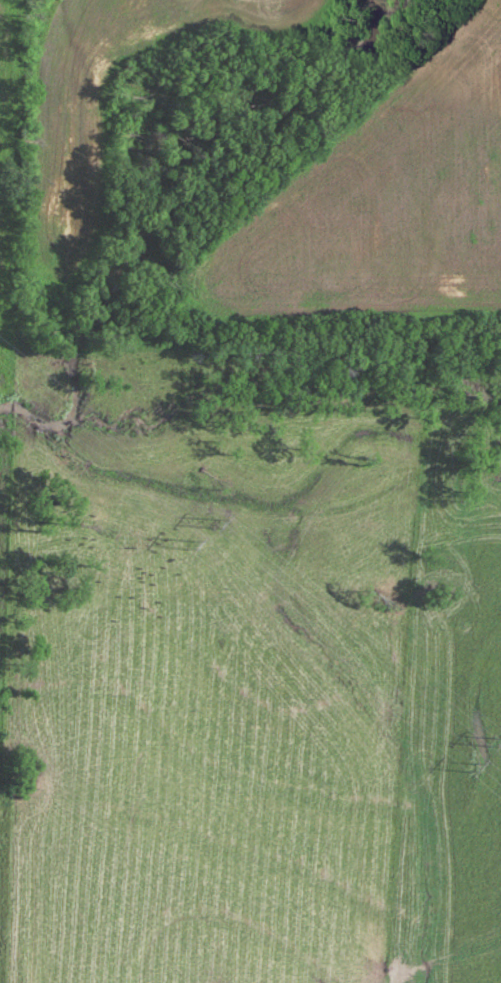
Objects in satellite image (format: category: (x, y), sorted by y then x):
power tower: (212, 516)
power tower: (193, 546)
power tower: (492, 734)
power tower: (474, 768)

